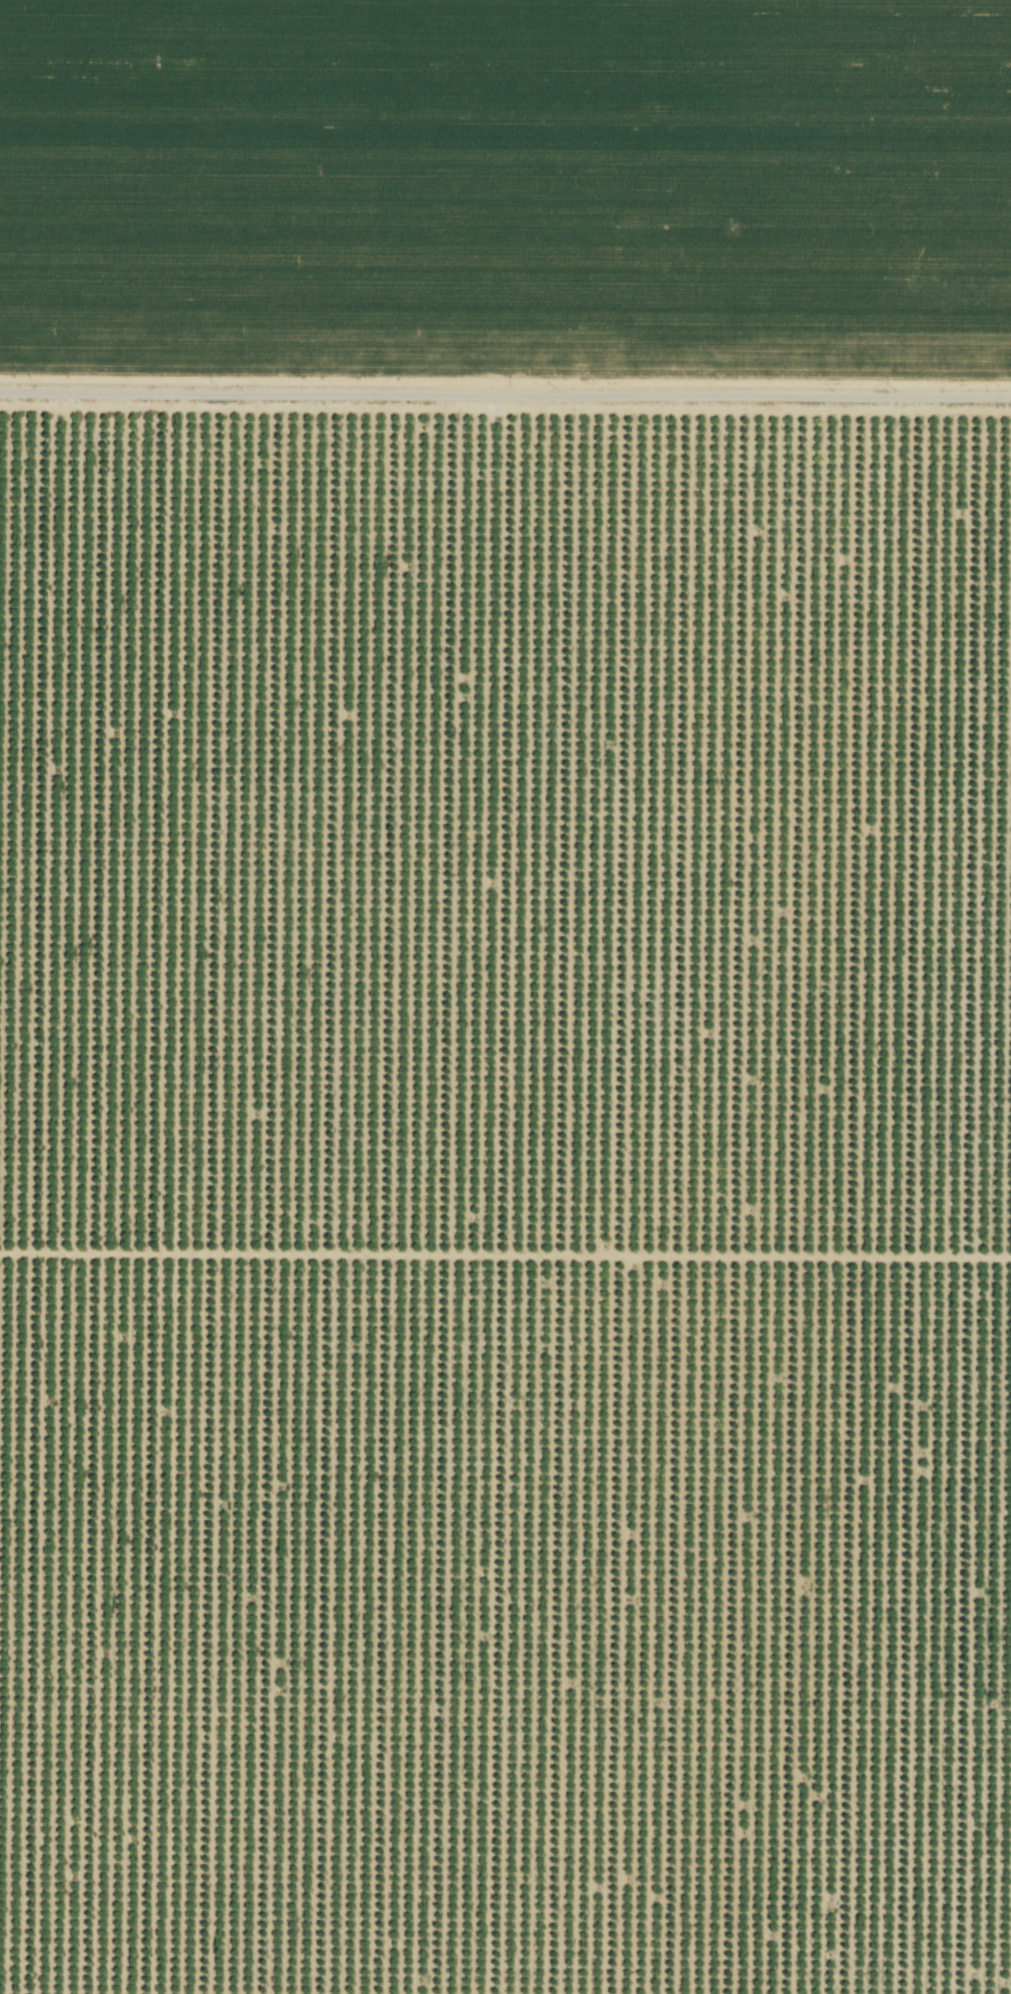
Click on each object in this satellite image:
crop: (506, 200)

